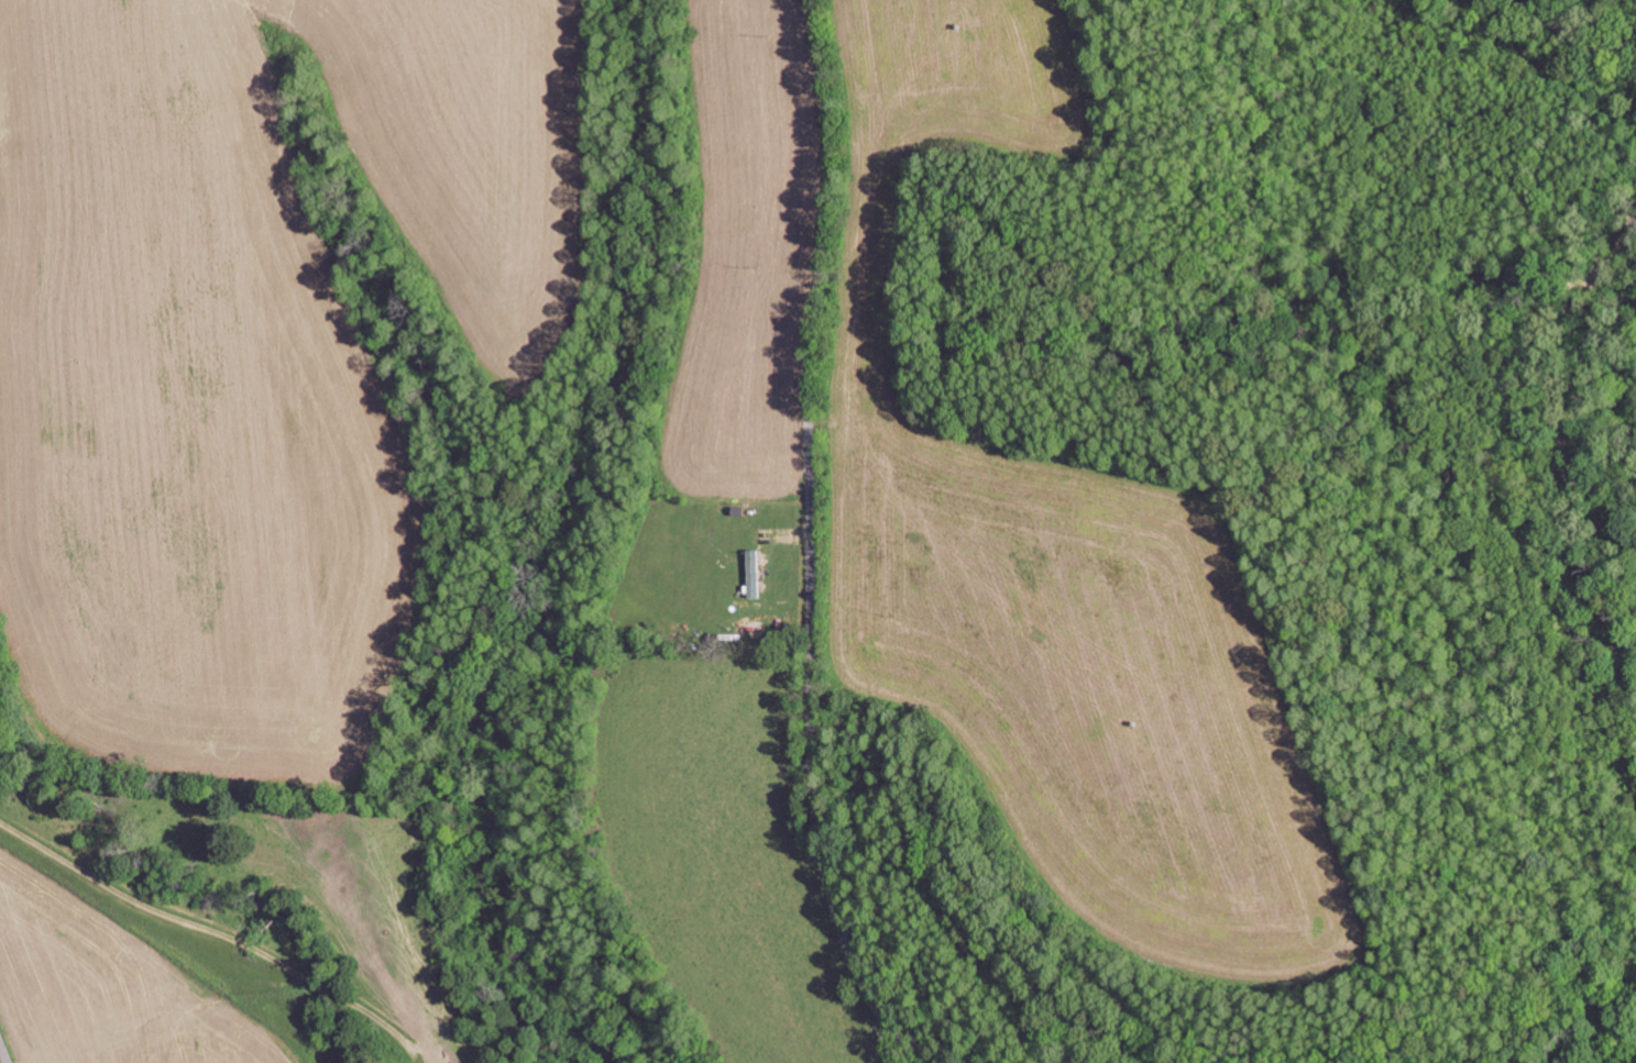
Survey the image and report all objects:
road: (808, 542)
road: (3, 1053)

